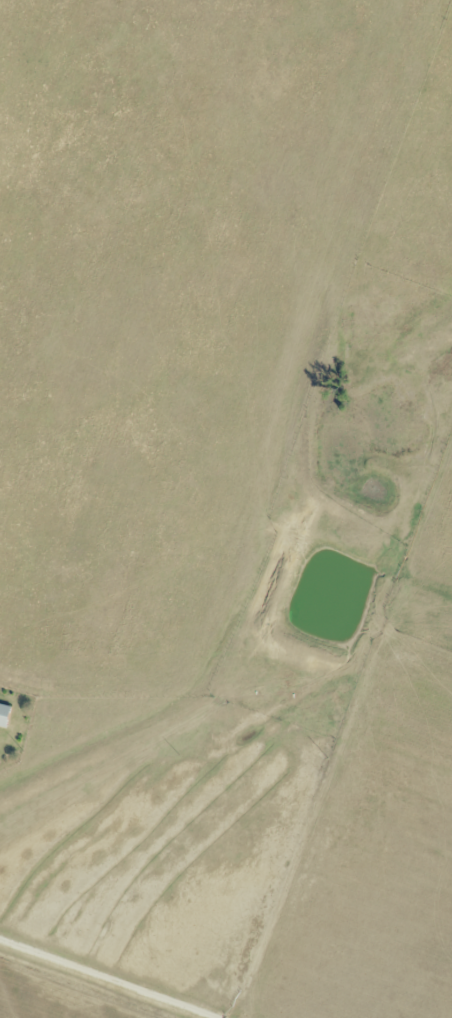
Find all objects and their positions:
building: (4, 714)
road: (109, 978)

